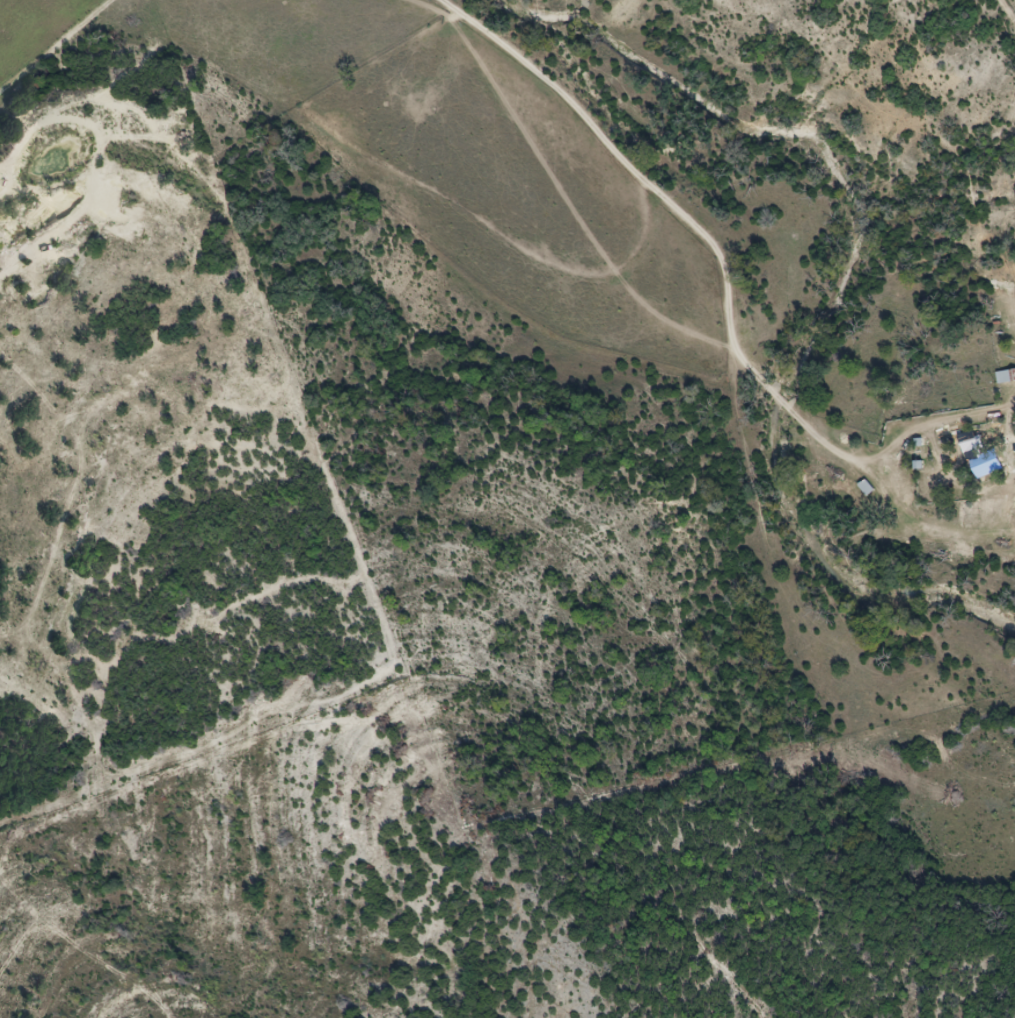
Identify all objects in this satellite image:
road: (301, 165)
building: (1005, 376)
building: (968, 444)
building: (981, 464)
building: (870, 490)

